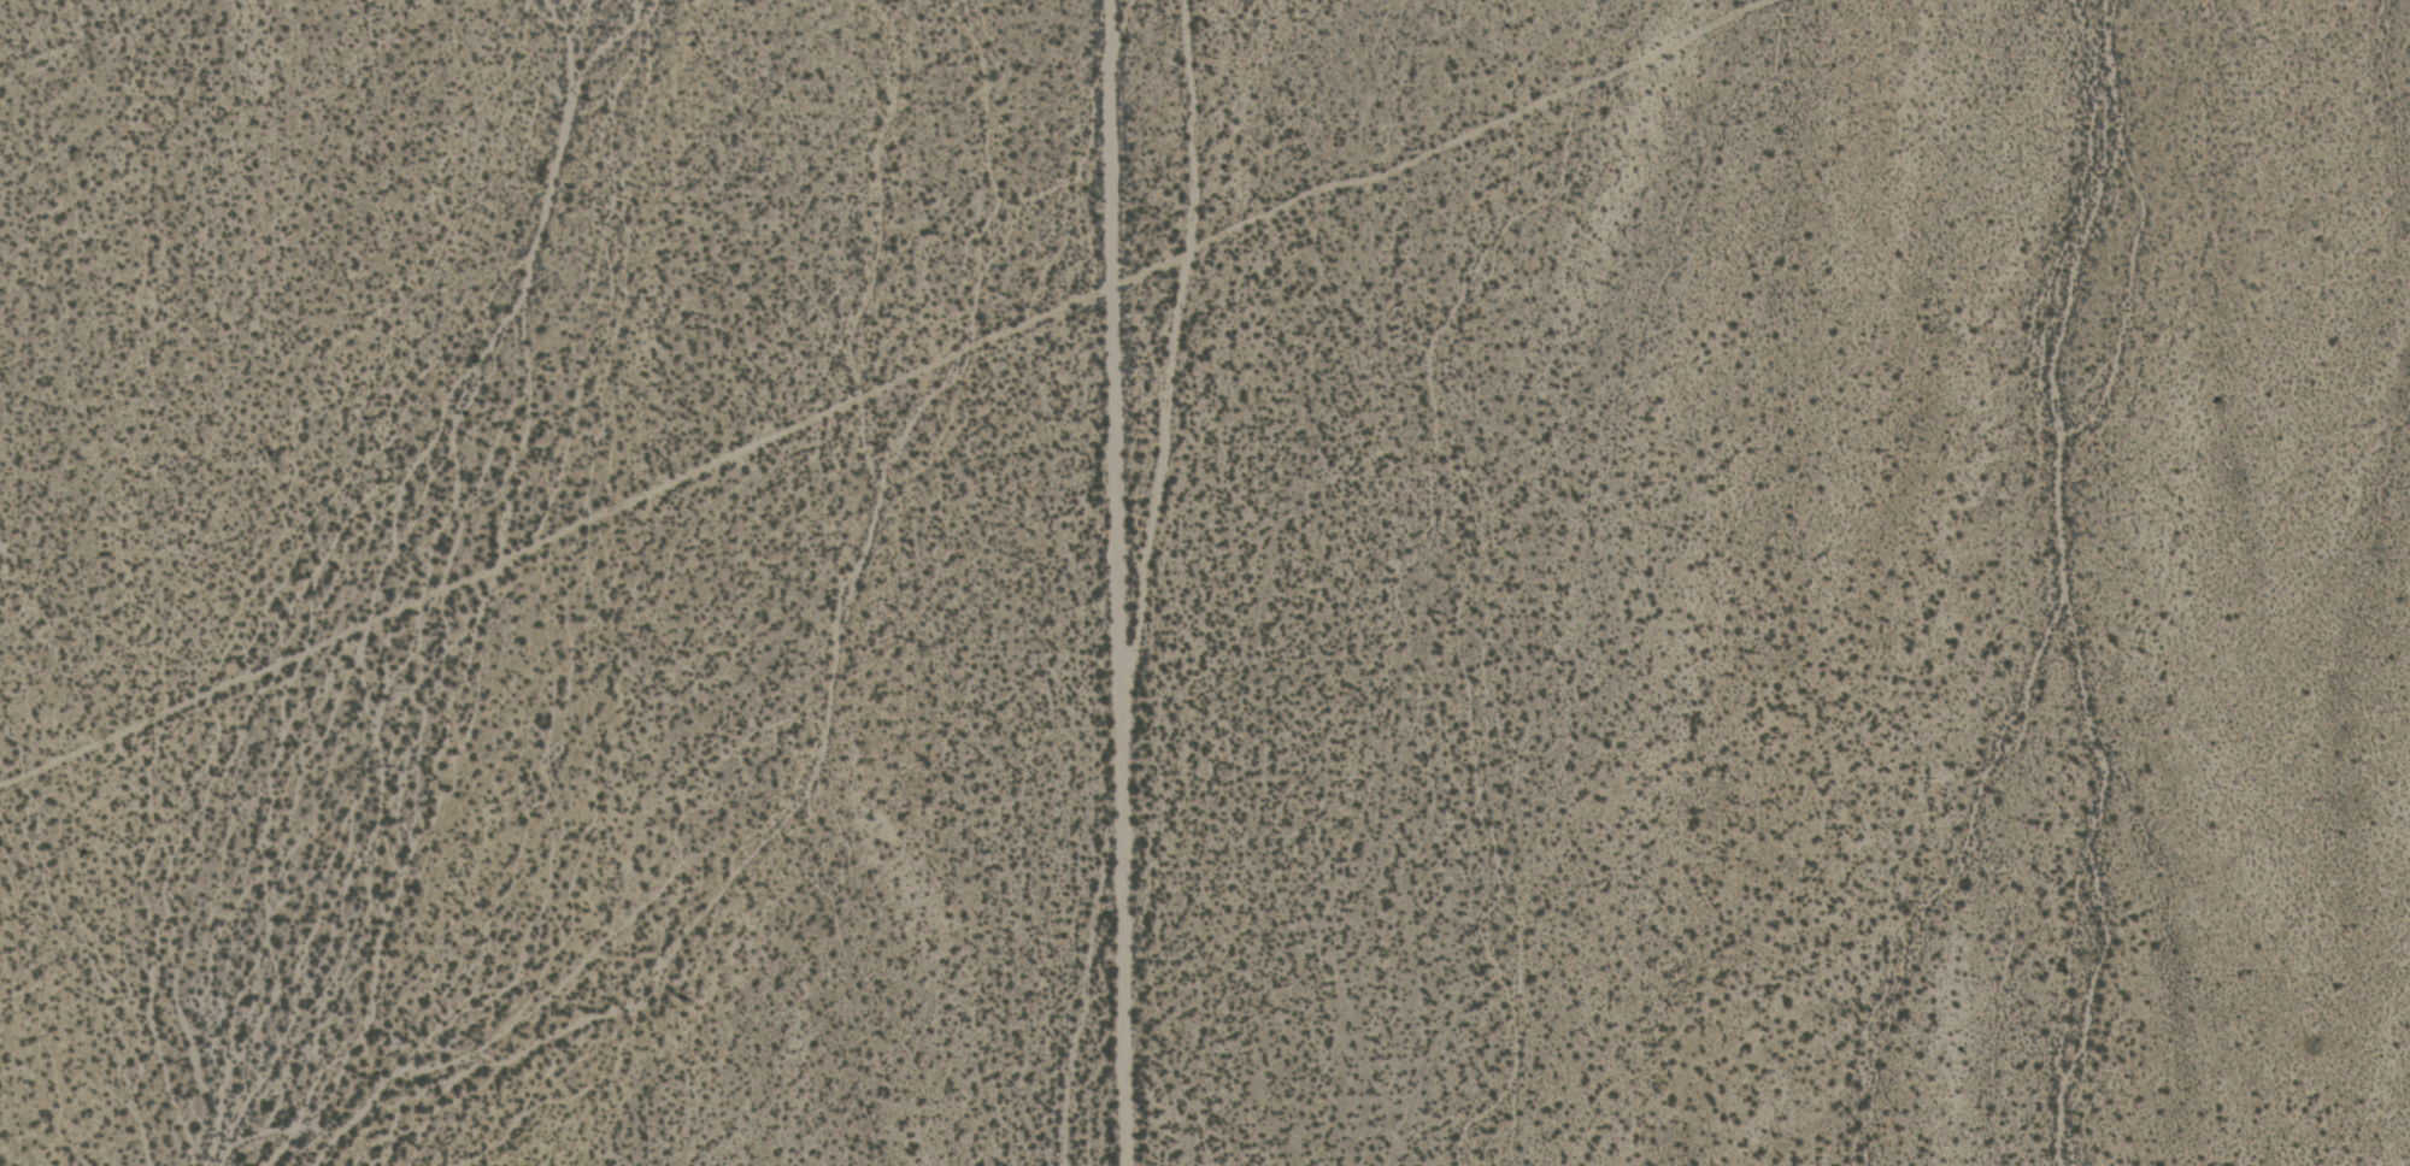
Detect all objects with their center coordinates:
road: (1116, 582)

